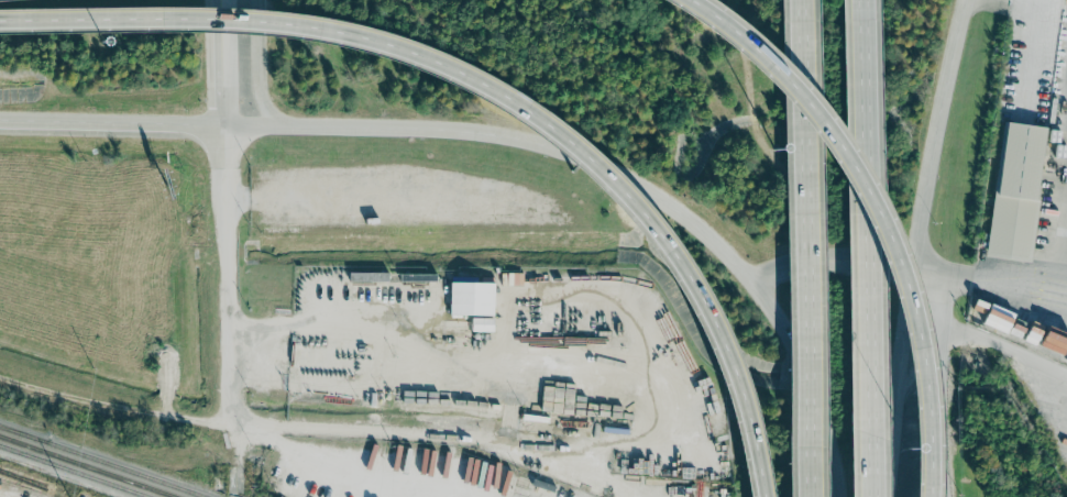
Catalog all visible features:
road: (257, 66)
road: (494, 89)
road: (110, 120)
road: (512, 134)
road: (872, 188)
building: (1016, 191)
road: (364, 197)
road: (809, 224)
road: (872, 227)
road: (224, 244)
road: (915, 246)
road: (832, 261)
road: (1064, 269)
road: (928, 273)
road: (1007, 279)
building: (471, 298)
building: (481, 323)
road: (1007, 344)
road: (812, 385)
road: (942, 387)
road: (113, 398)
road: (378, 426)
railway: (22, 433)
railway: (102, 461)
railway: (87, 466)
railway: (73, 471)
road: (813, 473)
road: (927, 473)
road: (878, 475)
building: (533, 487)
road: (10, 493)
building: (568, 494)

